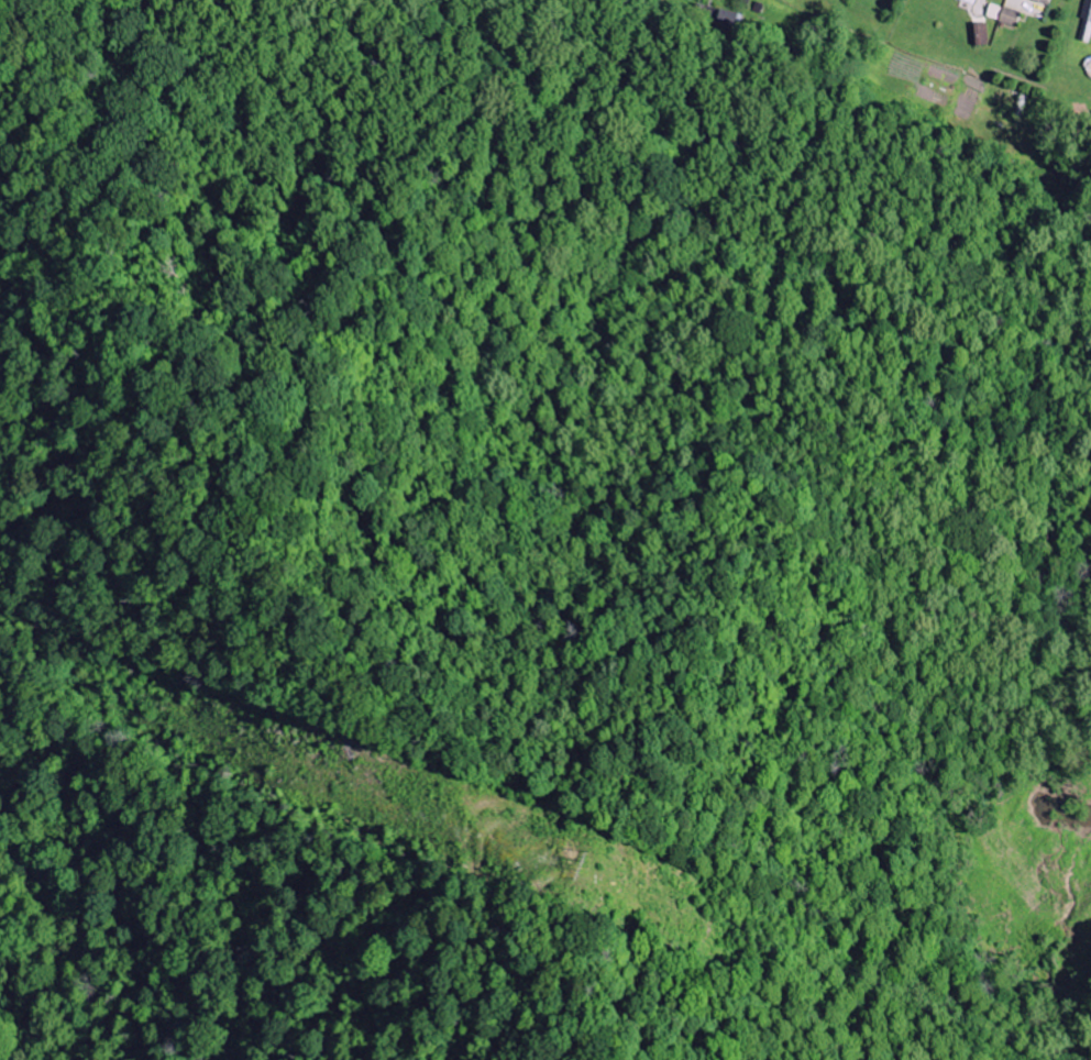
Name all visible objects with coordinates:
building: (1044, 1)
building: (993, 12)
building: (1012, 12)
building: (1086, 21)
building: (979, 34)
power tower: (591, 866)

